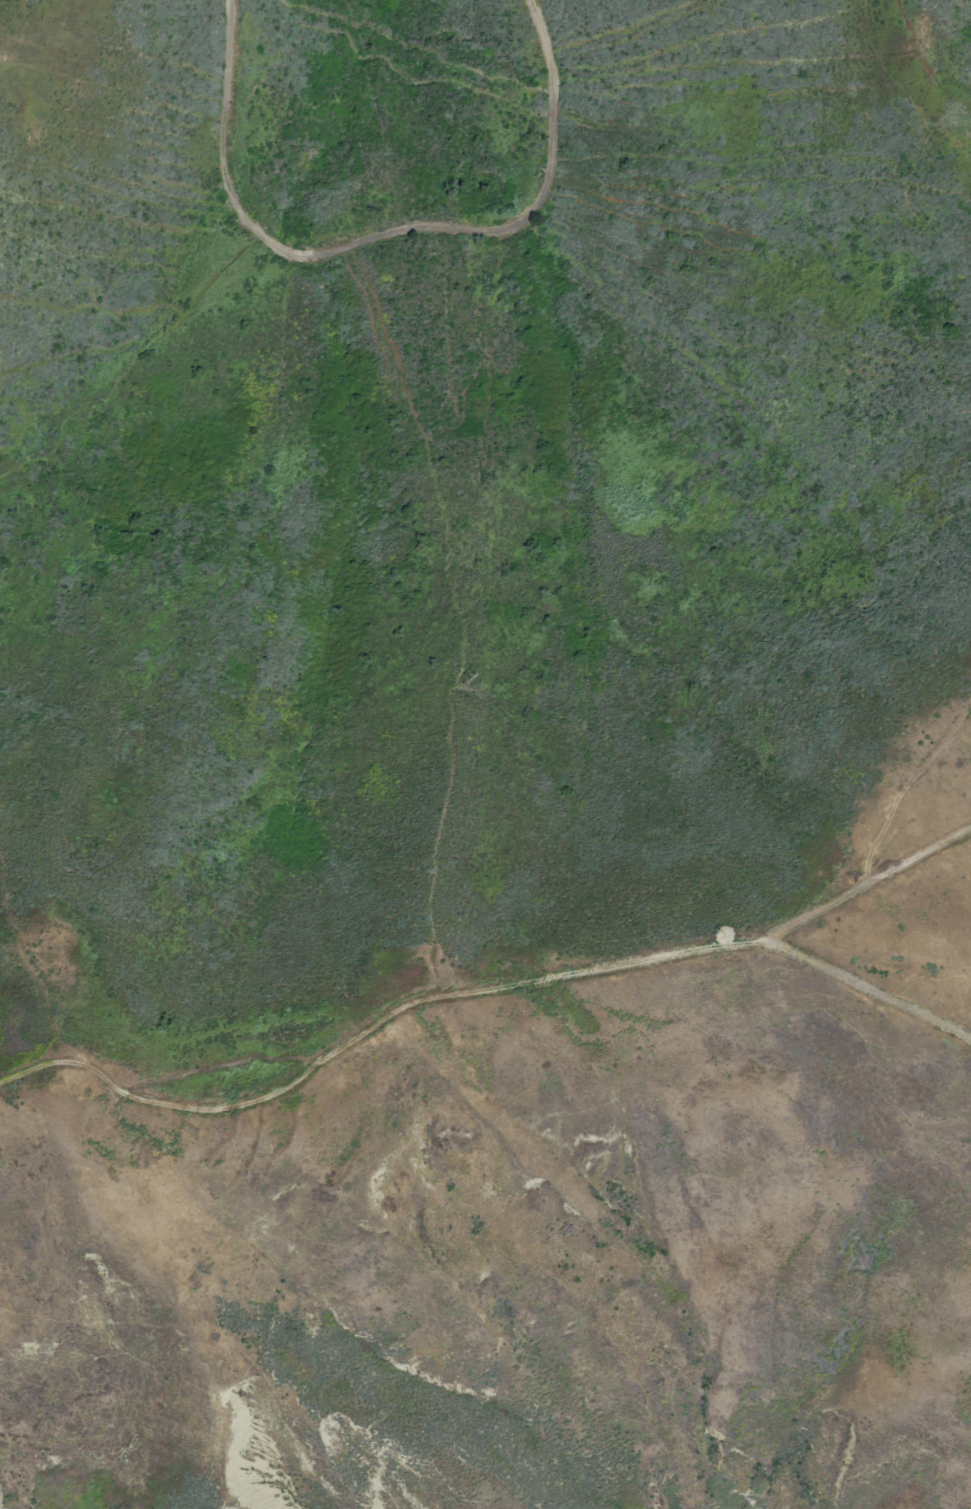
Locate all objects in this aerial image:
road: (479, 1000)

